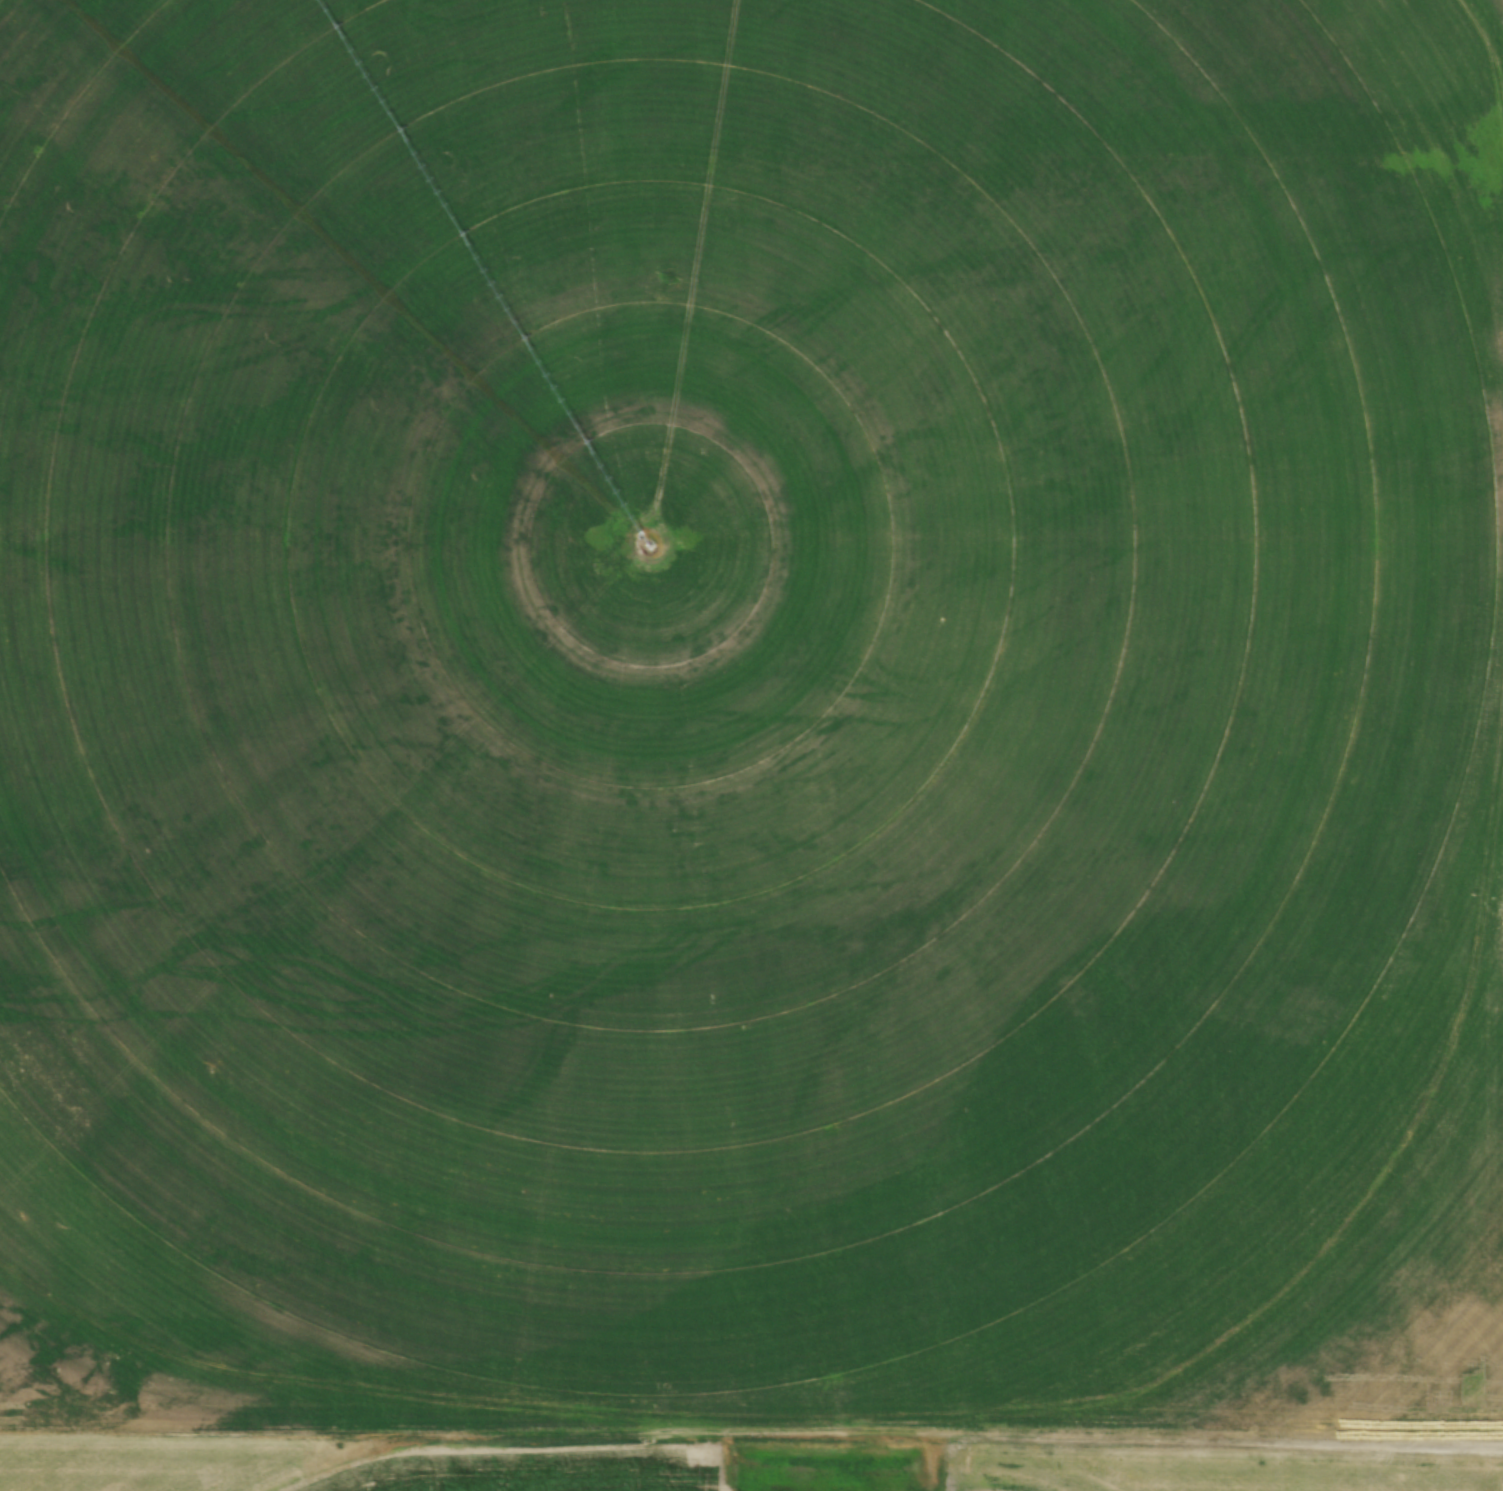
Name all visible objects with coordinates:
crop: (716, 658)
crop: (355, 1467)
crop: (1212, 1469)

